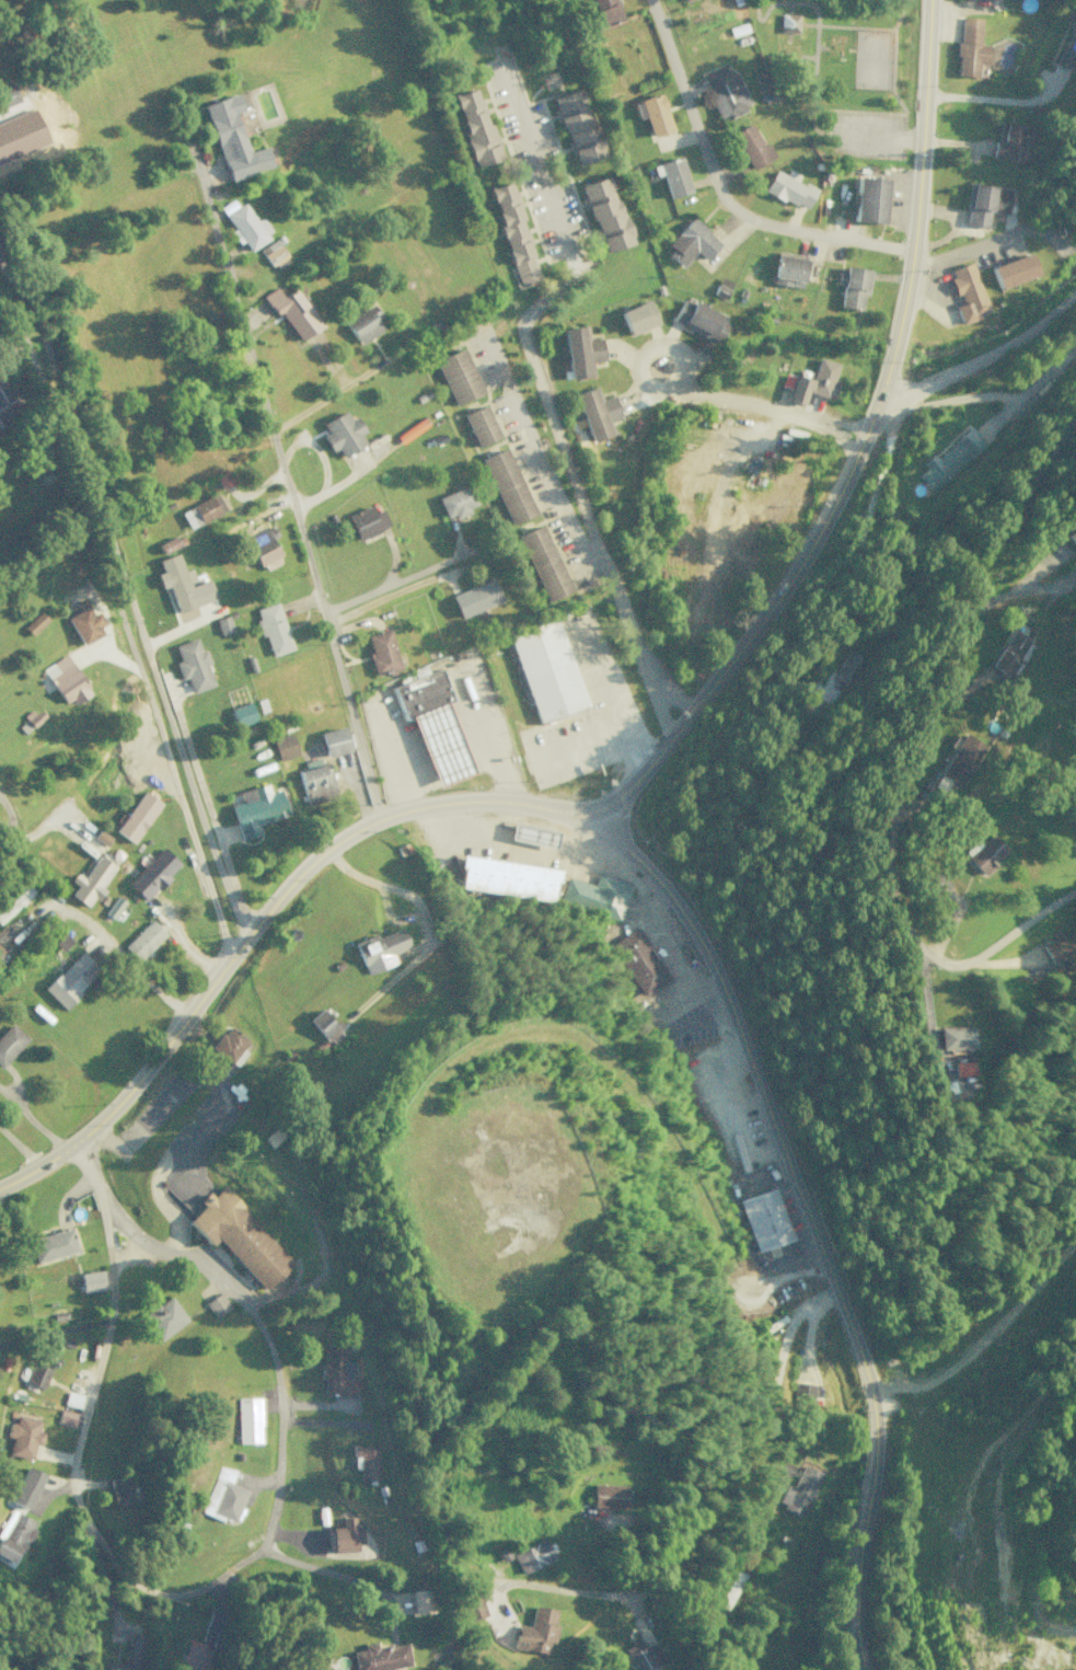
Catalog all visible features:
building: (680, 0)
building: (604, 11)
building: (787, 22)
building: (1068, 46)
building: (969, 47)
building: (725, 91)
road: (975, 97)
building: (474, 126)
building: (576, 126)
building: (232, 139)
building: (1007, 140)
building: (751, 146)
building: (671, 176)
building: (788, 188)
road: (719, 194)
building: (868, 199)
building: (983, 203)
building: (604, 214)
building: (246, 226)
building: (512, 232)
building: (690, 241)
road: (970, 249)
building: (274, 255)
building: (1011, 269)
building: (787, 270)
building: (852, 286)
building: (721, 287)
building: (967, 292)
building: (291, 312)
building: (637, 318)
building: (698, 320)
building: (363, 323)
building: (579, 353)
road: (984, 357)
building: (455, 376)
building: (811, 381)
building: (4, 403)
building: (594, 412)
building: (478, 425)
building: (342, 433)
road: (600, 437)
road: (851, 446)
building: (949, 459)
road: (286, 480)
building: (505, 485)
building: (454, 502)
building: (198, 511)
building: (366, 521)
building: (1072, 534)
building: (263, 549)
building: (541, 562)
road: (397, 581)
road: (512, 584)
road: (128, 594)
building: (474, 598)
building: (34, 622)
building: (83, 623)
building: (223, 624)
building: (271, 629)
building: (380, 652)
building: (1011, 653)
building: (192, 665)
building: (848, 665)
building: (546, 670)
building: (65, 679)
building: (242, 714)
building: (432, 723)
building: (333, 740)
building: (284, 747)
building: (962, 759)
road: (909, 761)
building: (315, 783)
building: (255, 809)
building: (137, 816)
road: (9, 821)
building: (101, 837)
building: (985, 853)
building: (152, 873)
building: (505, 877)
building: (92, 879)
building: (595, 895)
building: (14, 901)
building: (114, 907)
road: (261, 913)
road: (386, 915)
road: (418, 915)
building: (3, 930)
building: (142, 940)
building: (61, 941)
building: (1060, 948)
building: (379, 949)
building: (638, 961)
building: (70, 978)
building: (325, 1026)
building: (954, 1037)
building: (10, 1041)
building: (229, 1044)
road: (204, 1078)
parking lot: (189, 1126)
building: (762, 1219)
road: (811, 1224)
building: (238, 1234)
building: (51, 1244)
building: (91, 1280)
road: (270, 1292)
building: (217, 1304)
building: (163, 1317)
road: (801, 1338)
road: (267, 1345)
building: (336, 1372)
building: (36, 1375)
building: (801, 1394)
building: (71, 1398)
road: (762, 1416)
building: (66, 1417)
building: (247, 1419)
road: (79, 1429)
building: (22, 1437)
building: (366, 1460)
building: (25, 1487)
building: (120, 1488)
building: (798, 1490)
building: (223, 1495)
building: (608, 1495)
road: (690, 1497)
building: (345, 1535)
building: (15, 1536)
building: (27, 1554)
building: (531, 1555)
road: (598, 1593)
building: (420, 1601)
building: (472, 1605)
building: (535, 1631)
building: (132, 1651)
building: (643, 1656)
building: (380, 1657)
building: (194, 1658)

